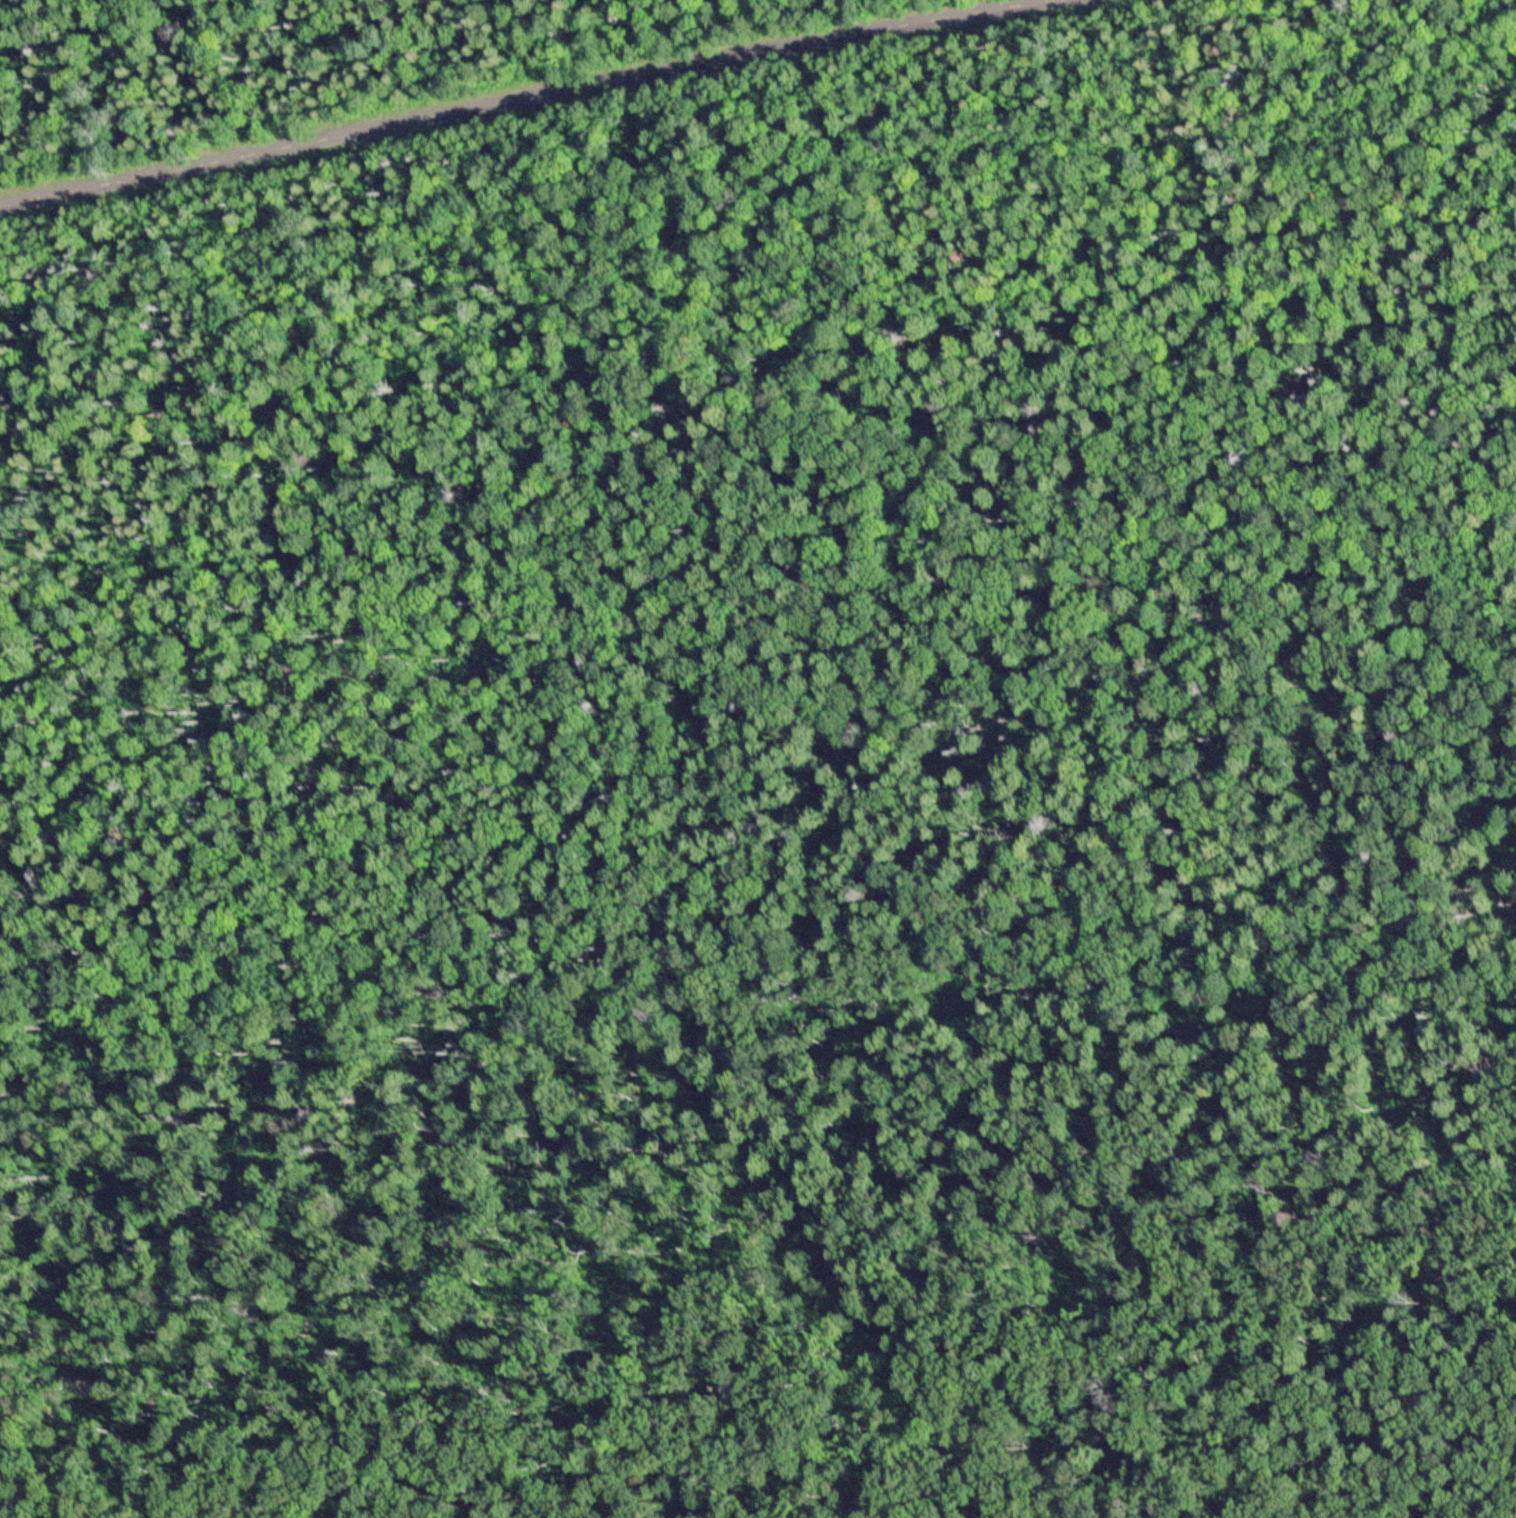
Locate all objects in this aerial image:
road: (541, 106)
road: (684, 1001)

